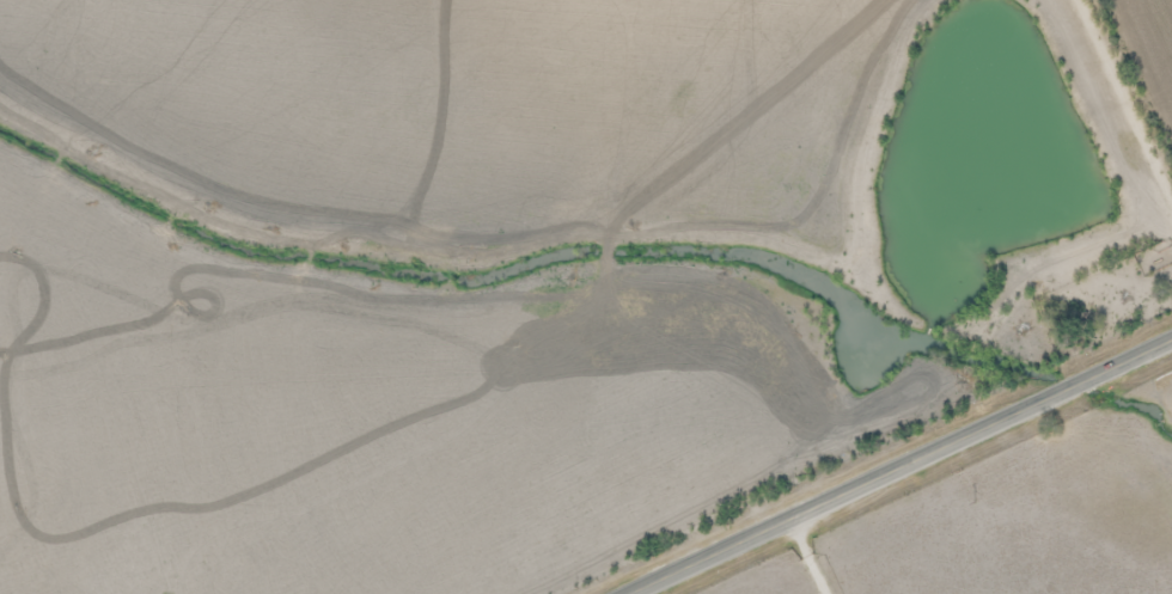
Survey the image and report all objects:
road: (1133, 82)
road: (903, 469)
power tower: (967, 503)

